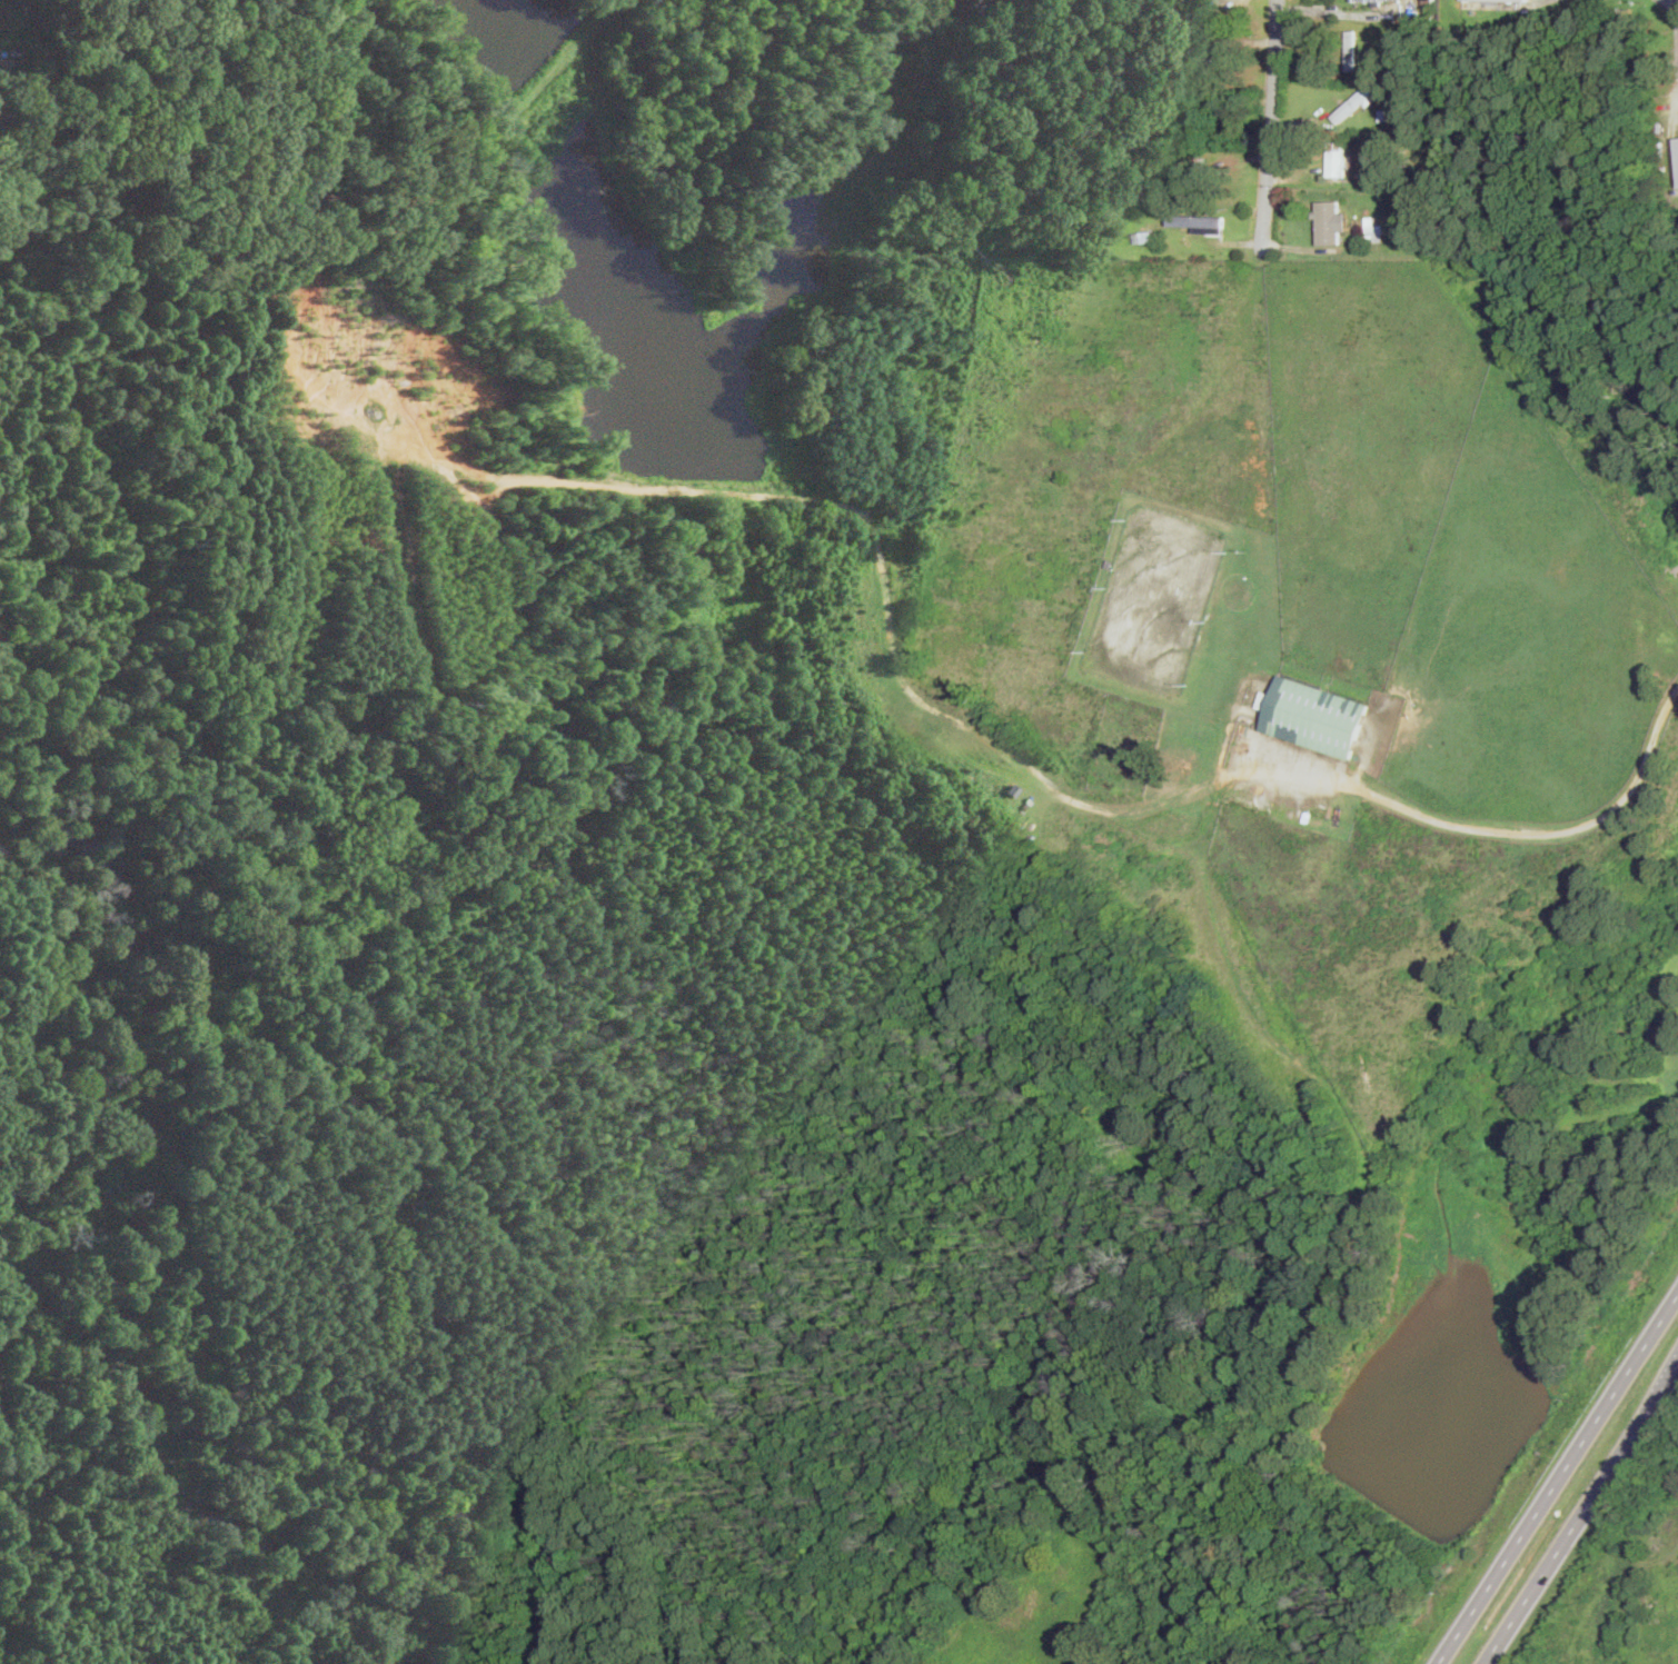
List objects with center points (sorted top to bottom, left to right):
building: (1353, 0)
building: (1526, 0)
building: (1481, 3)
building: (1350, 49)
building: (1352, 102)
road: (1268, 128)
building: (1677, 141)
building: (1337, 160)
building: (1199, 221)
building: (1329, 221)
building: (1313, 715)
road: (1559, 1481)
road: (1580, 1514)

